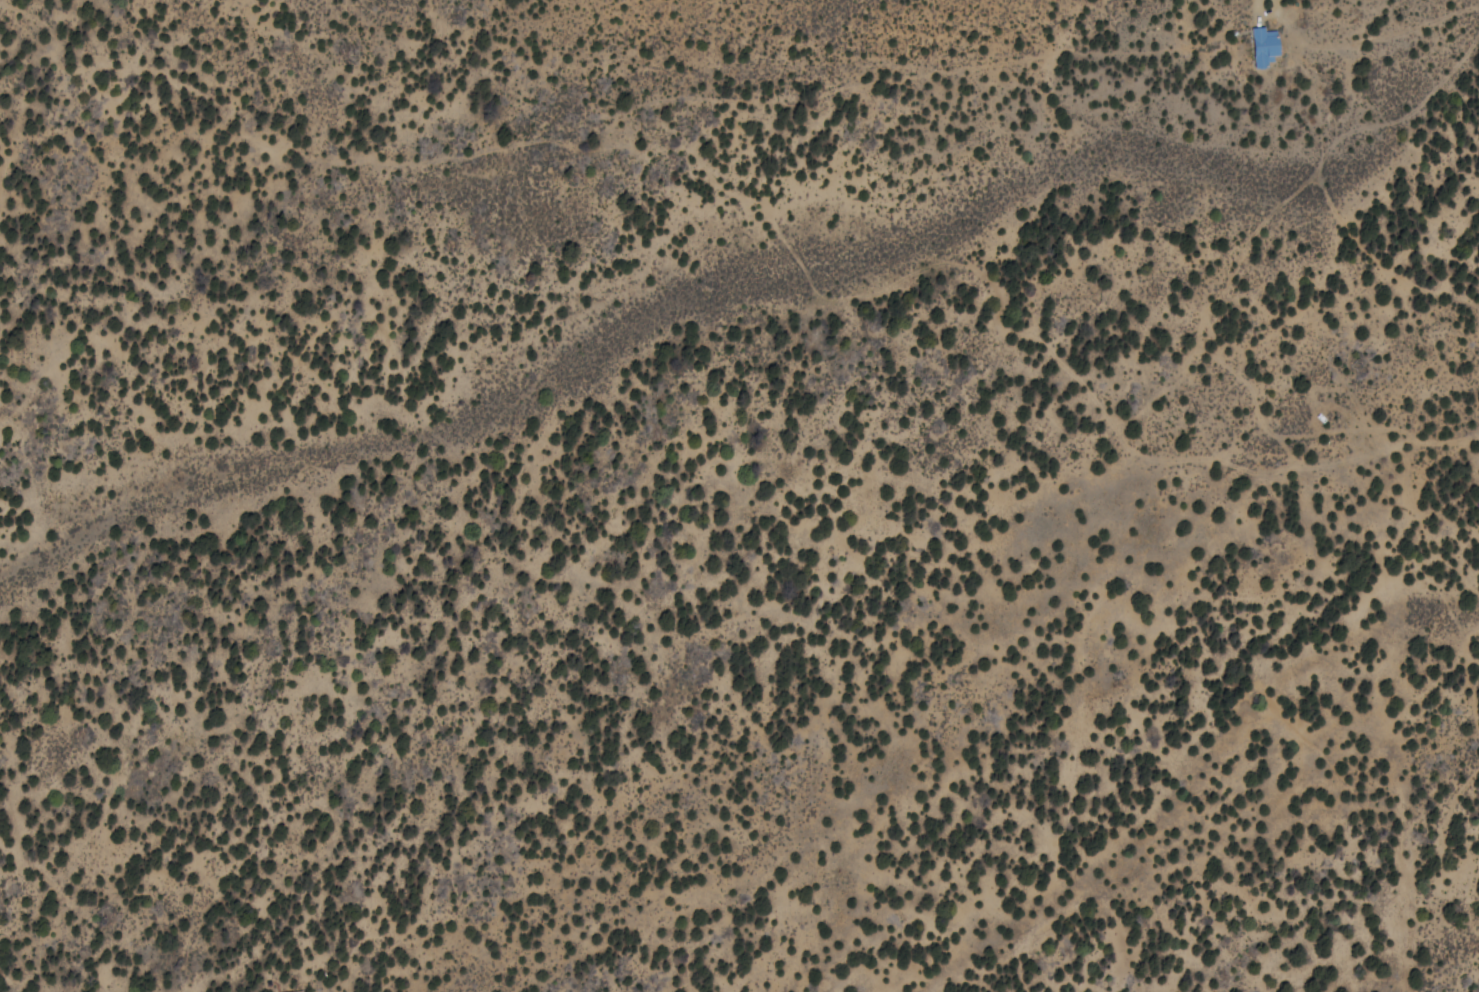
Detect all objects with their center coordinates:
building: (1264, 46)
building: (1478, 505)
building: (289, 991)

